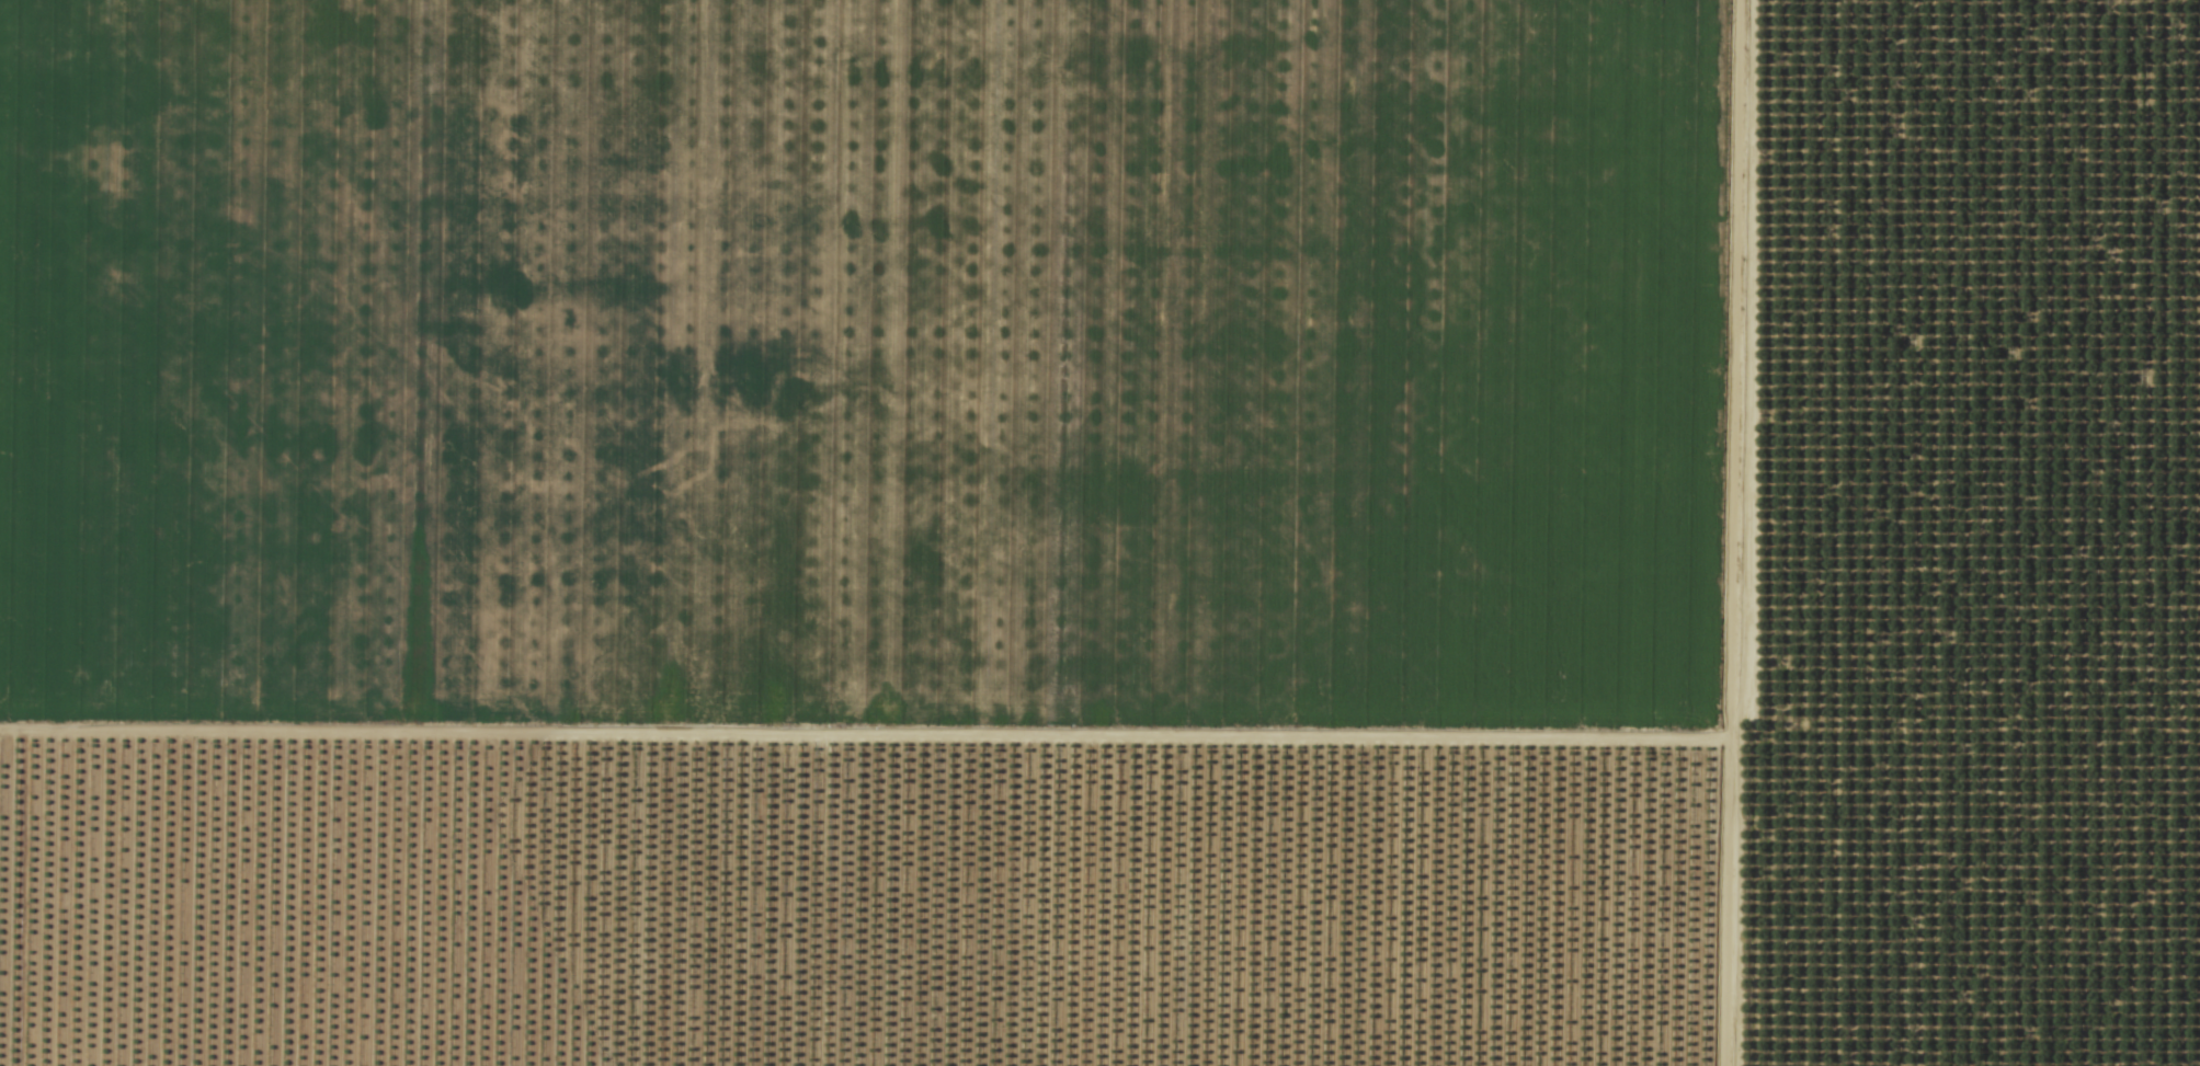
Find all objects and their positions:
crop: (868, 367)

